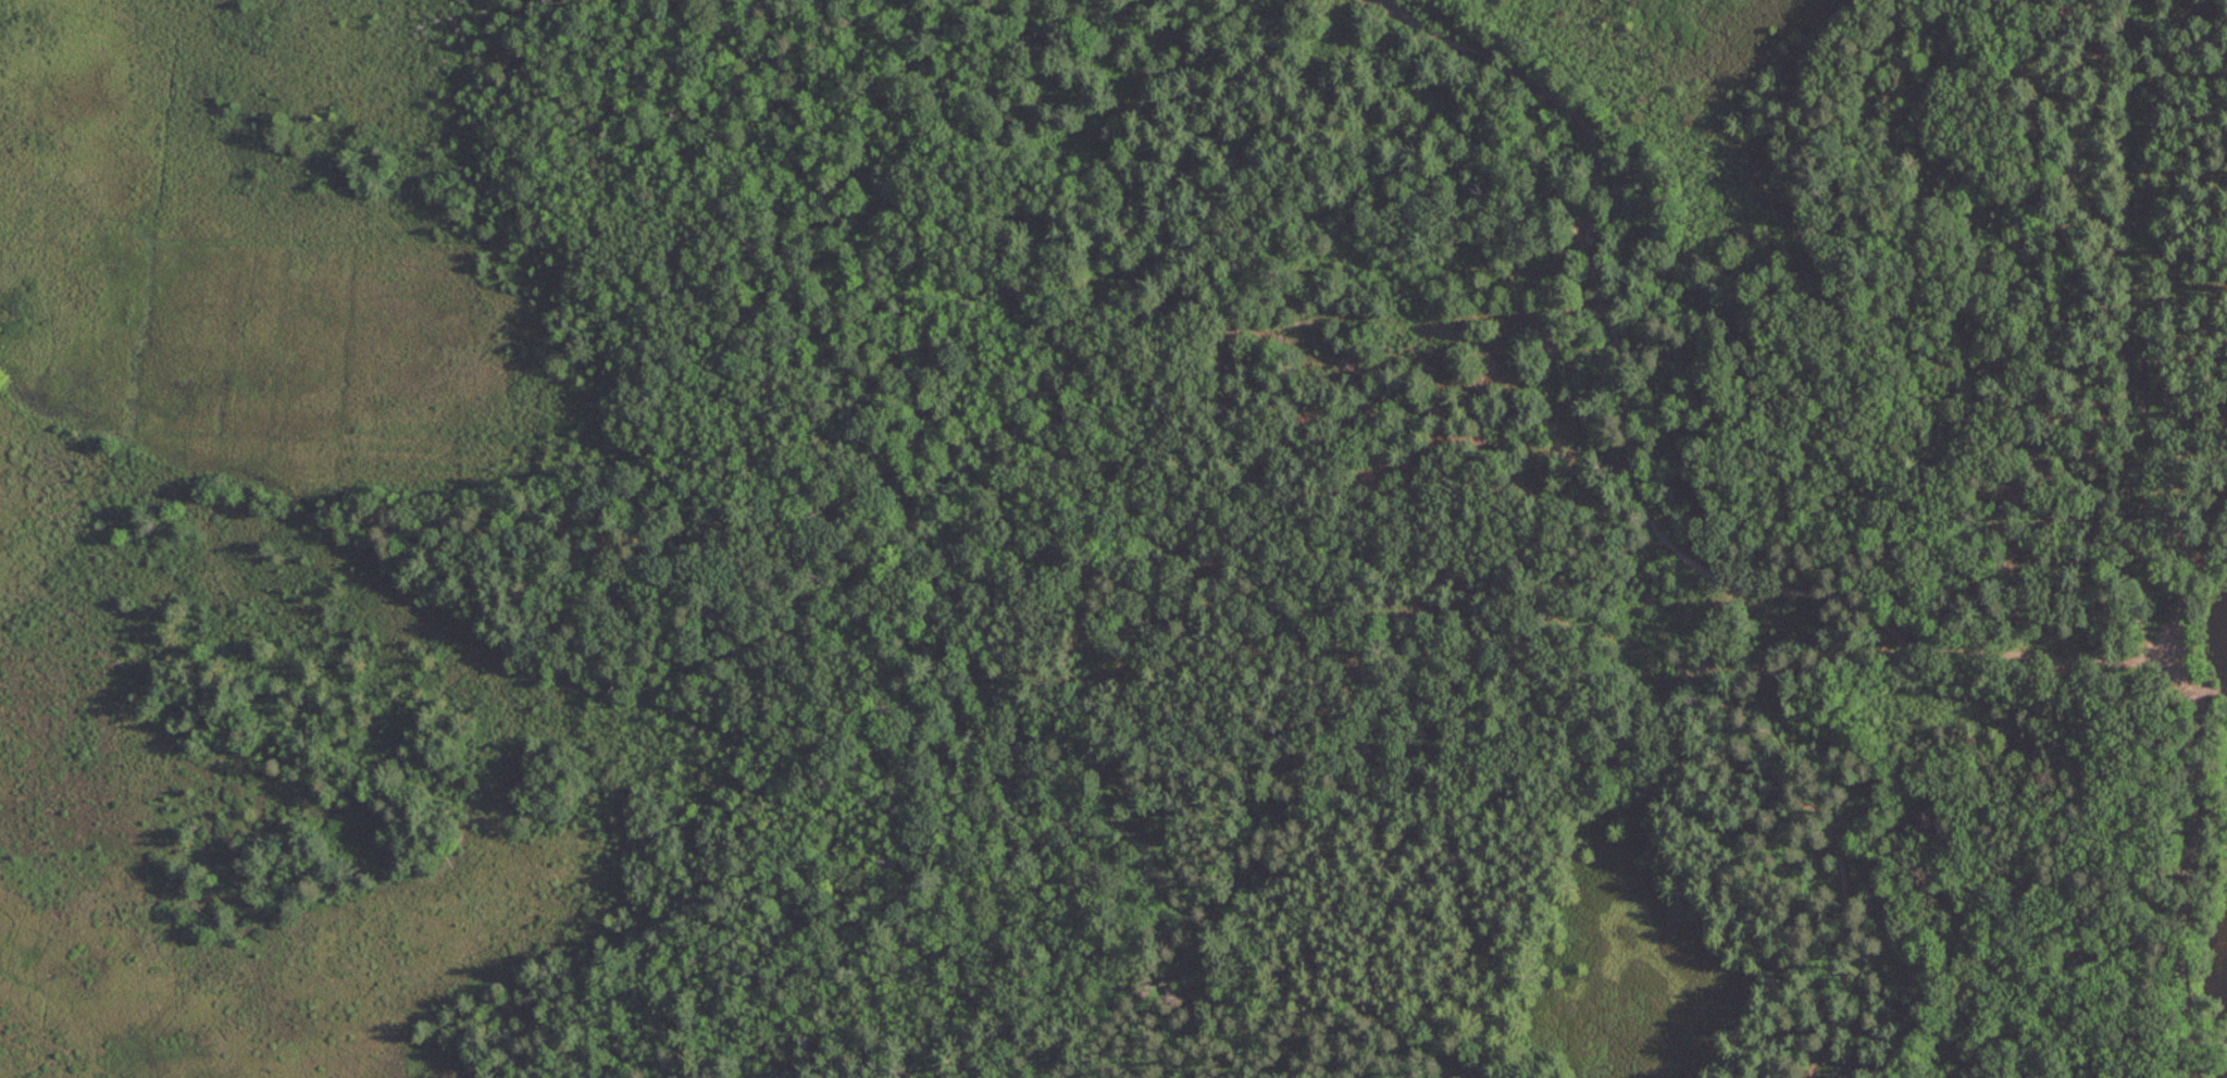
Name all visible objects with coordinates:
road: (2147, 538)

